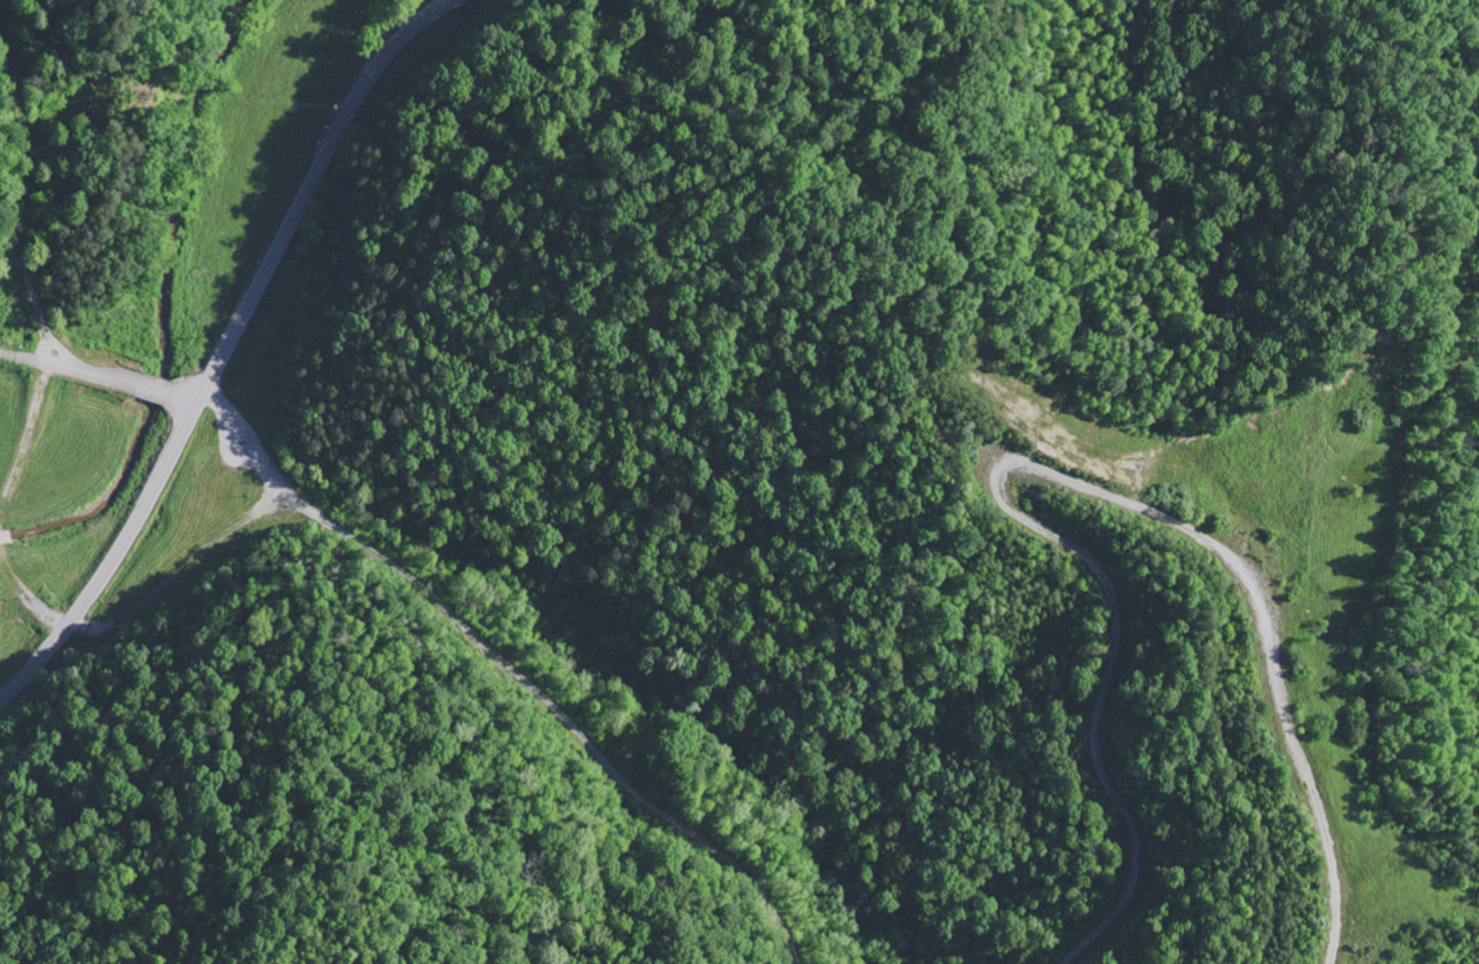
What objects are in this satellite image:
road: (31, 219)
road: (226, 347)
road: (31, 362)
road: (131, 385)

